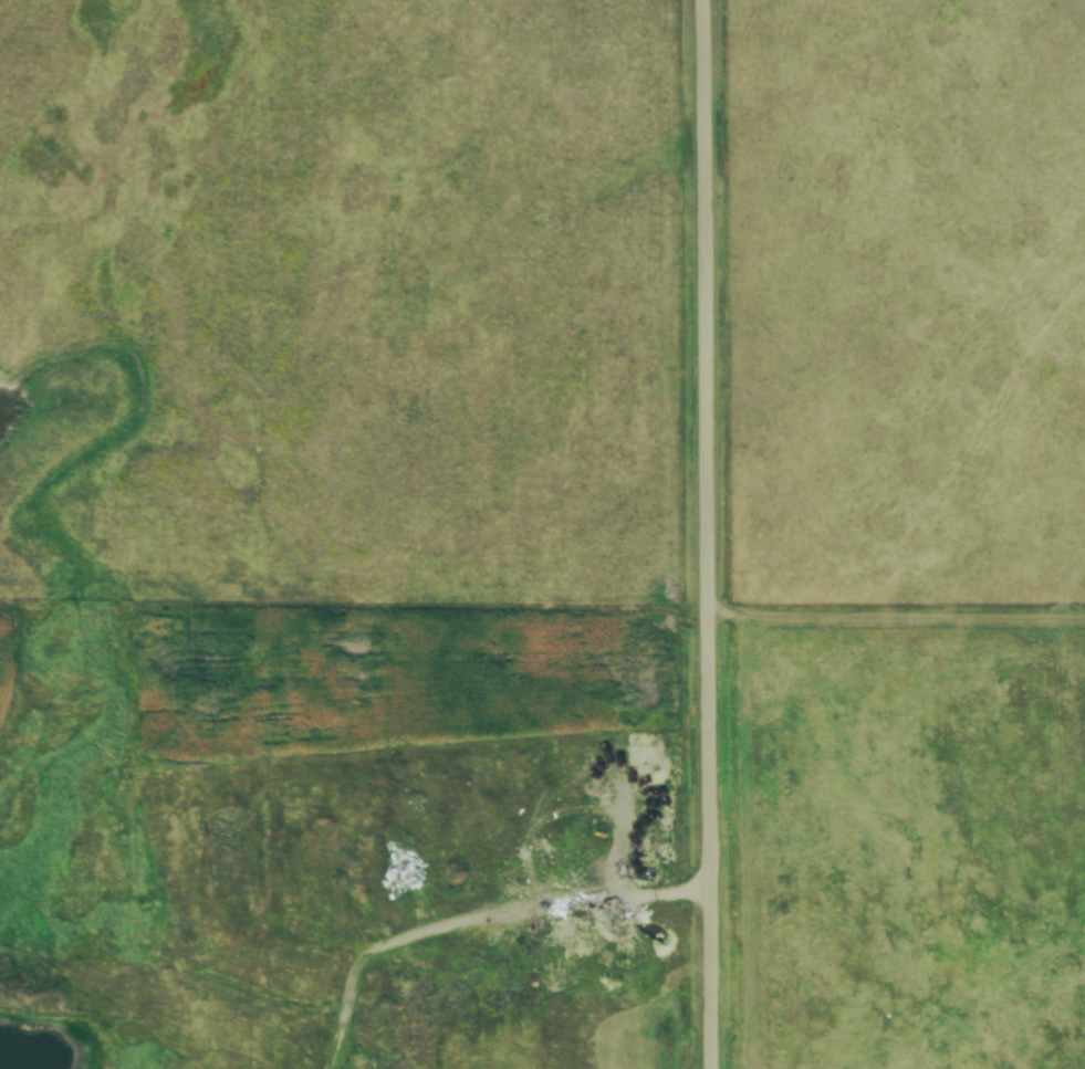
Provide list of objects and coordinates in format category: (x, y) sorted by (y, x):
road: (710, 534)

